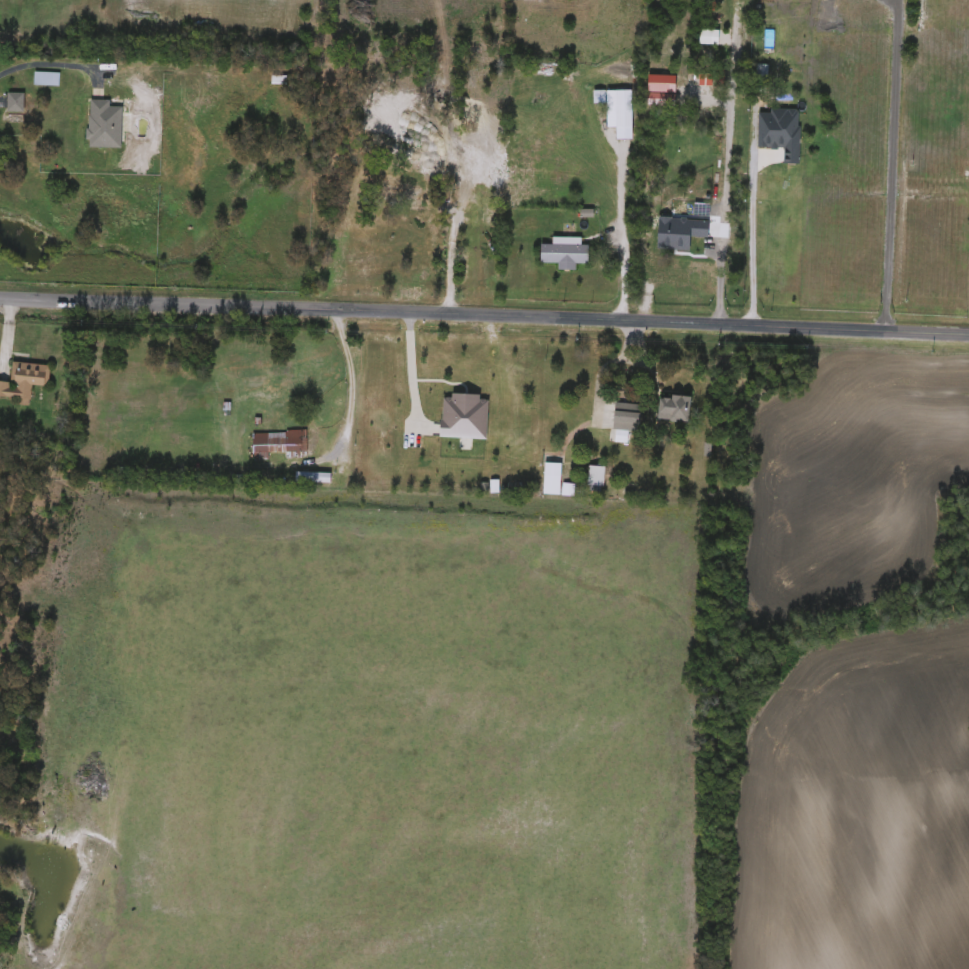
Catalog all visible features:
road: (52, 60)
building: (46, 79)
building: (472, 80)
building: (701, 84)
building: (15, 102)
building: (788, 106)
building: (619, 109)
building: (104, 125)
road: (889, 163)
building: (400, 194)
road: (723, 194)
road: (620, 230)
road: (753, 233)
building: (565, 254)
road: (484, 303)
road: (408, 362)
road: (608, 362)
building: (287, 370)
road: (349, 380)
building: (24, 381)
building: (675, 408)
building: (626, 417)
building: (278, 442)
building: (595, 477)

